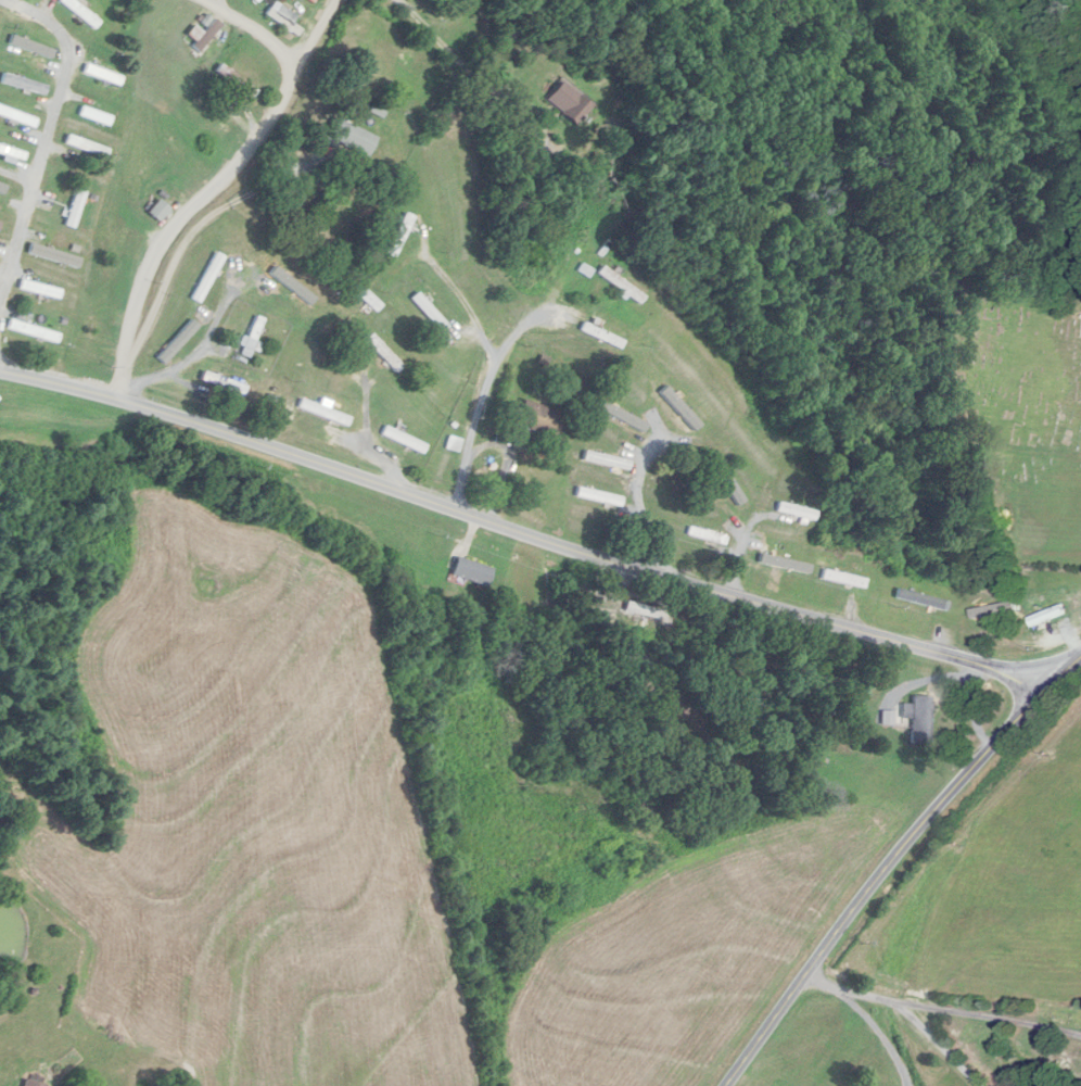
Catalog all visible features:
building: (81, 11)
building: (204, 34)
road: (315, 34)
building: (29, 52)
building: (103, 74)
building: (238, 80)
road: (486, 83)
building: (26, 85)
building: (569, 102)
building: (96, 115)
building: (17, 116)
building: (351, 137)
road: (46, 138)
building: (88, 146)
building: (12, 152)
road: (217, 173)
building: (76, 209)
building: (160, 211)
building: (400, 236)
building: (208, 277)
building: (622, 286)
building: (41, 289)
building: (367, 296)
building: (430, 312)
building: (34, 331)
building: (252, 336)
building: (384, 352)
road: (192, 355)
road: (487, 372)
building: (323, 412)
park: (1020, 414)
building: (538, 418)
building: (404, 439)
road: (496, 442)
building: (607, 459)
building: (599, 496)
building: (796, 510)
road: (649, 529)
building: (702, 533)
road: (527, 534)
building: (472, 570)
building: (844, 578)
building: (924, 598)
building: (644, 609)
building: (1046, 616)
building: (919, 716)
road: (892, 867)
road: (942, 1008)
road: (878, 1031)
road: (938, 1044)
building: (33, 1083)

